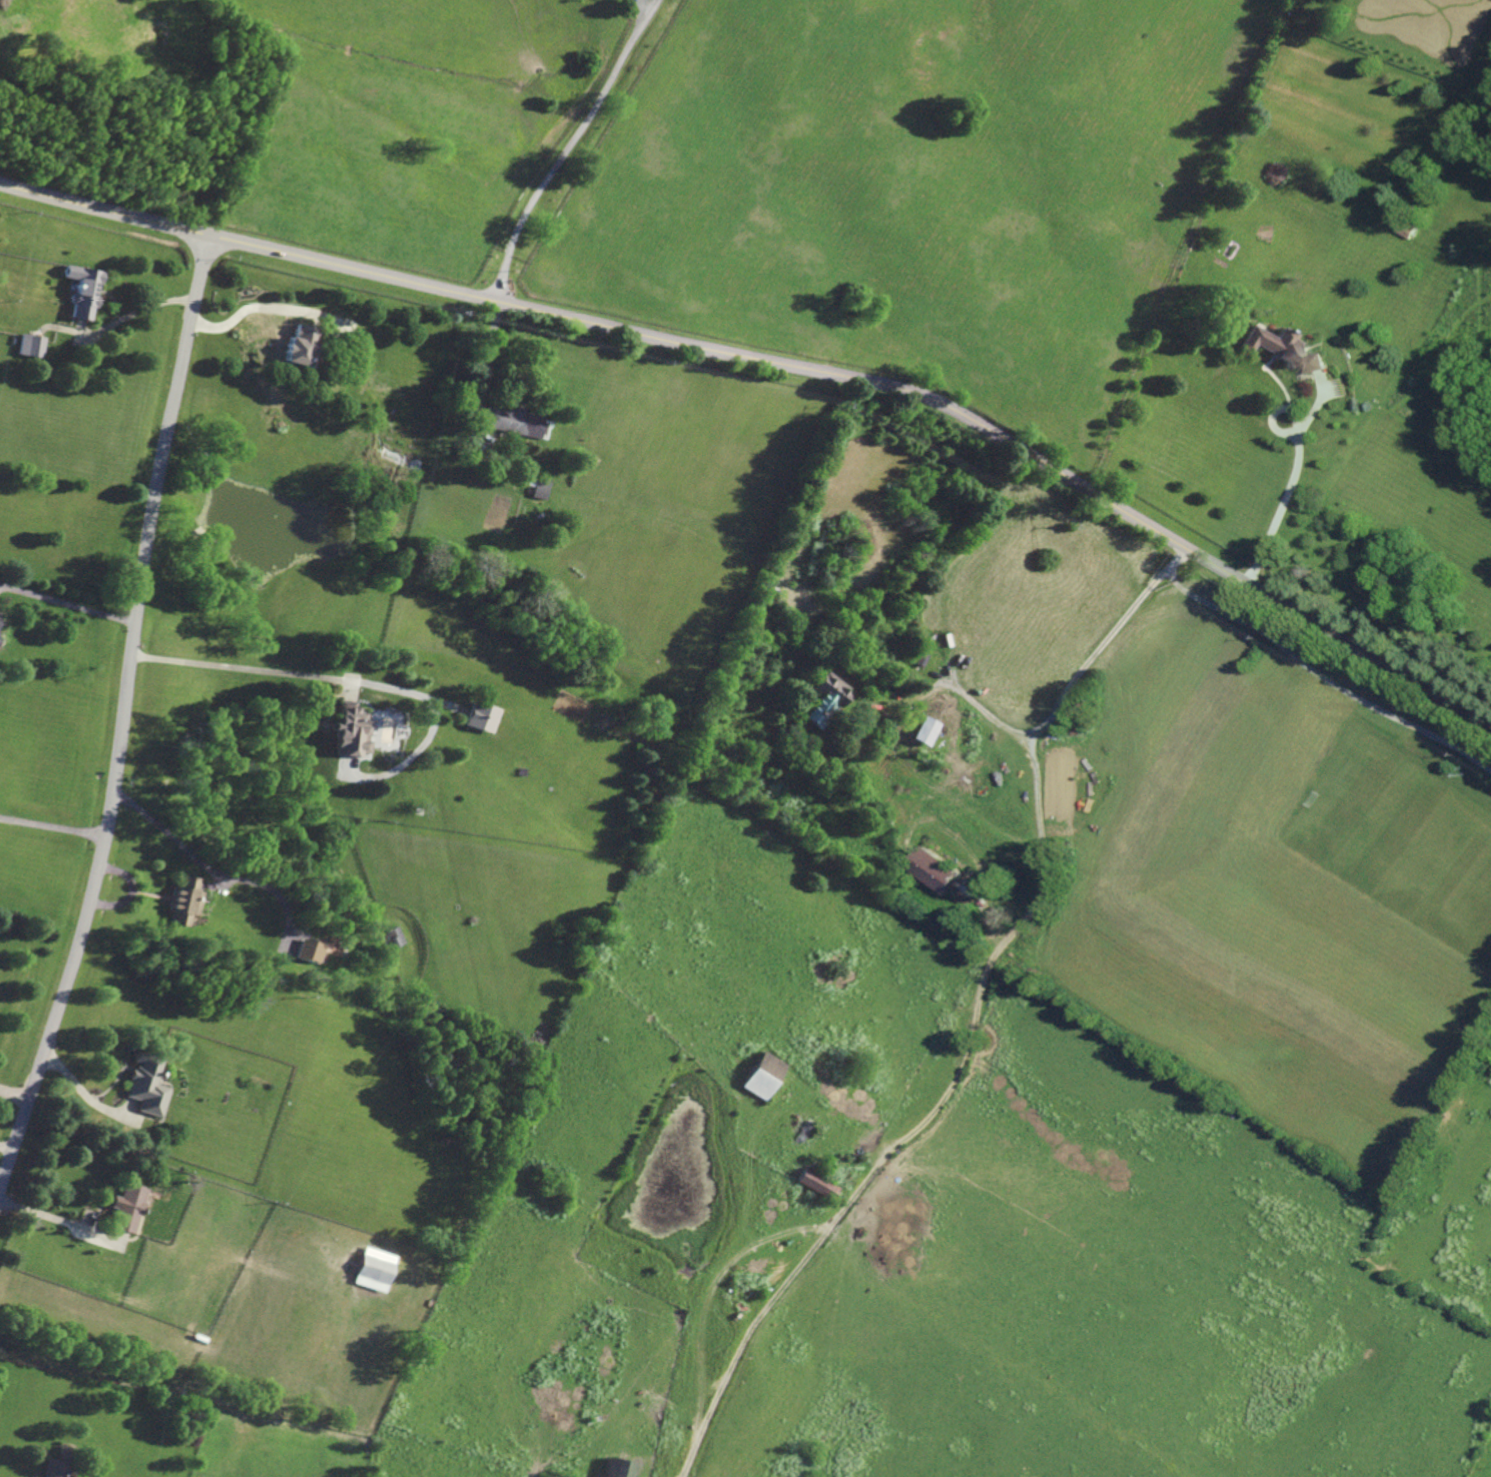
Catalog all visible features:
road: (573, 145)
building: (1406, 226)
building: (83, 293)
road: (262, 309)
building: (300, 346)
building: (31, 347)
building: (1286, 351)
road: (782, 364)
road: (1292, 408)
building: (513, 423)
building: (542, 490)
road: (74, 606)
road: (244, 670)
road: (971, 698)
building: (823, 702)
building: (483, 717)
road: (123, 720)
building: (352, 731)
building: (927, 731)
road: (53, 827)
road: (205, 866)
building: (937, 871)
building: (183, 902)
building: (397, 937)
road: (1375, 950)
building: (309, 951)
road: (979, 1015)
building: (763, 1076)
building: (147, 1086)
road: (15, 1093)
road: (7, 1148)
building: (817, 1185)
building: (128, 1206)
road: (45, 1216)
building: (375, 1270)
building: (63, 1454)
building: (54, 1469)
building: (616, 1469)

